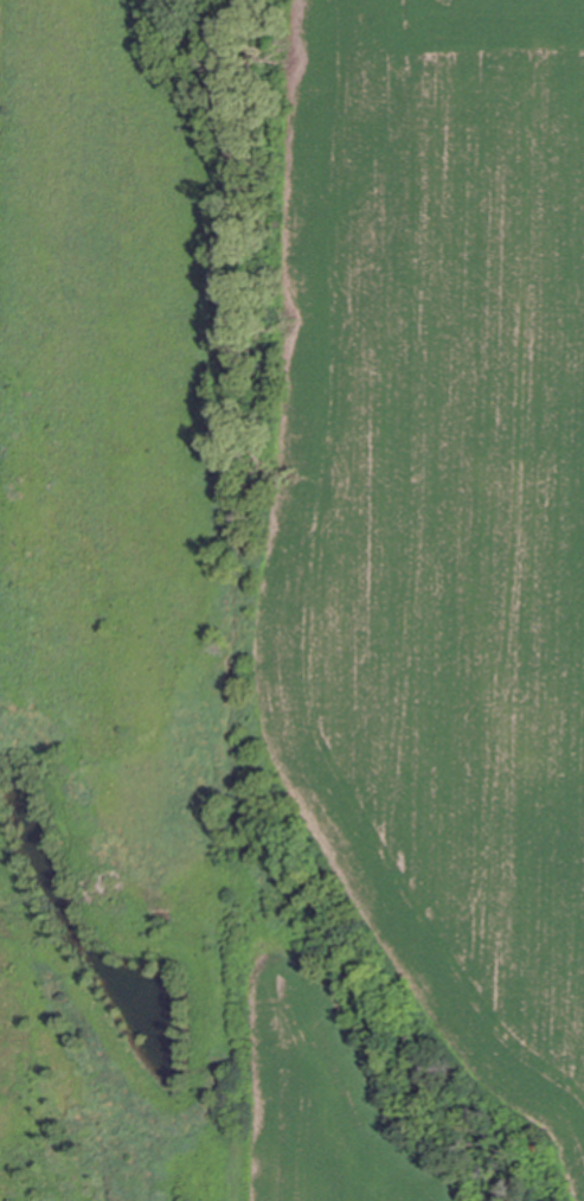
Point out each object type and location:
crop: (432, 509)
crop: (322, 1110)

